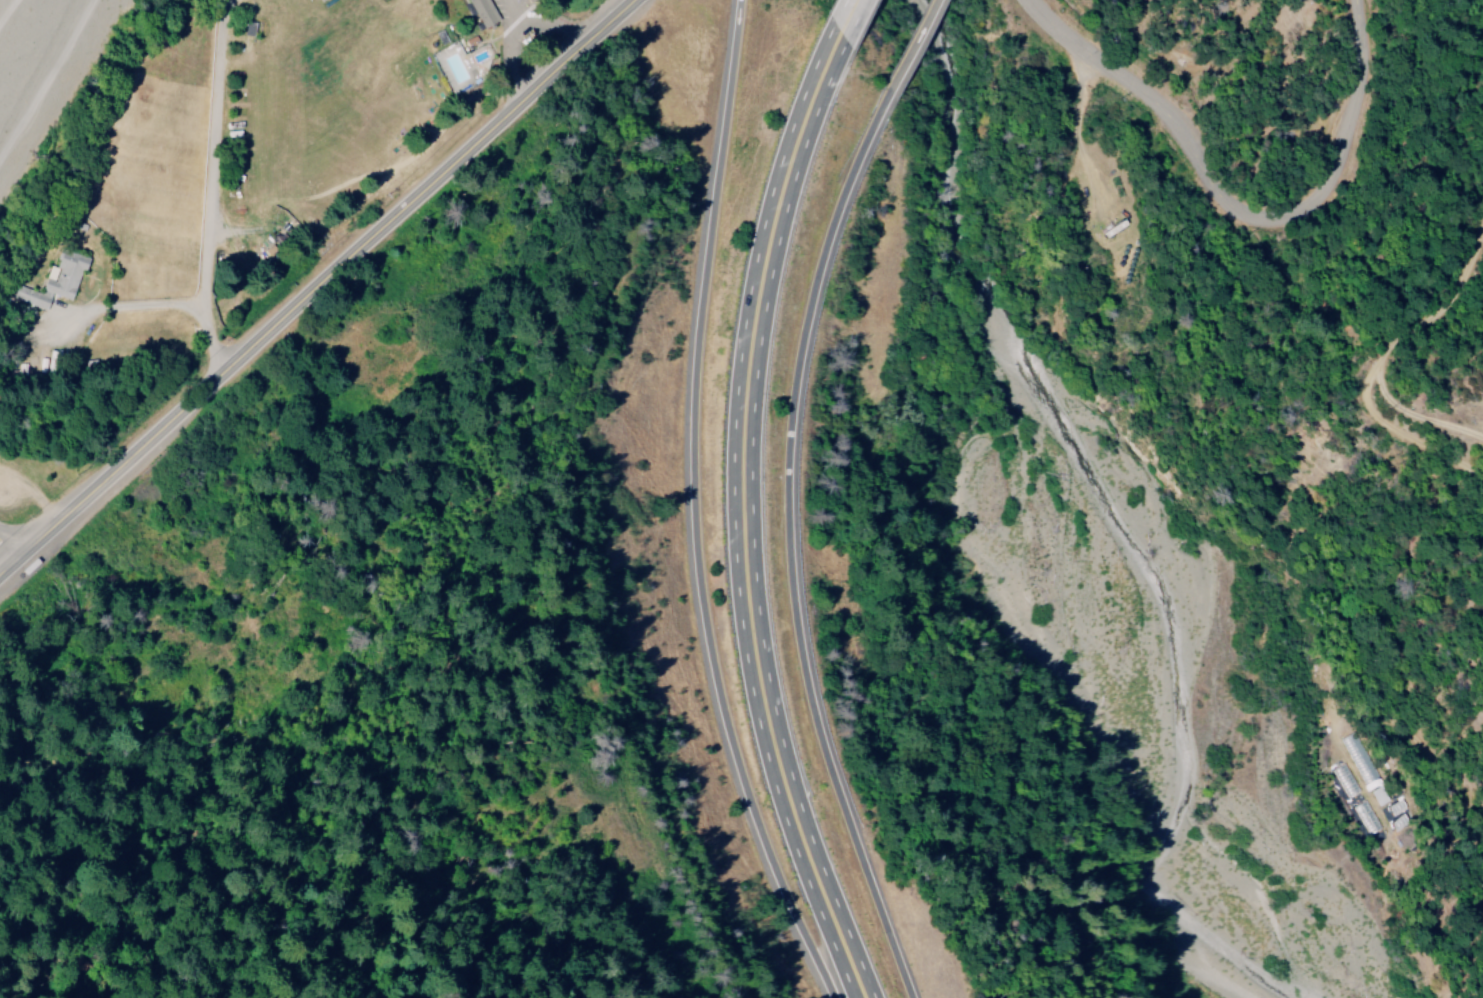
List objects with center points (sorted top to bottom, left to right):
building: (481, 12)
road: (848, 15)
road: (543, 25)
road: (920, 30)
road: (1236, 205)
building: (54, 282)
road: (316, 289)
road: (34, 489)
road: (685, 510)
road: (743, 516)
road: (796, 528)
road: (13, 547)

